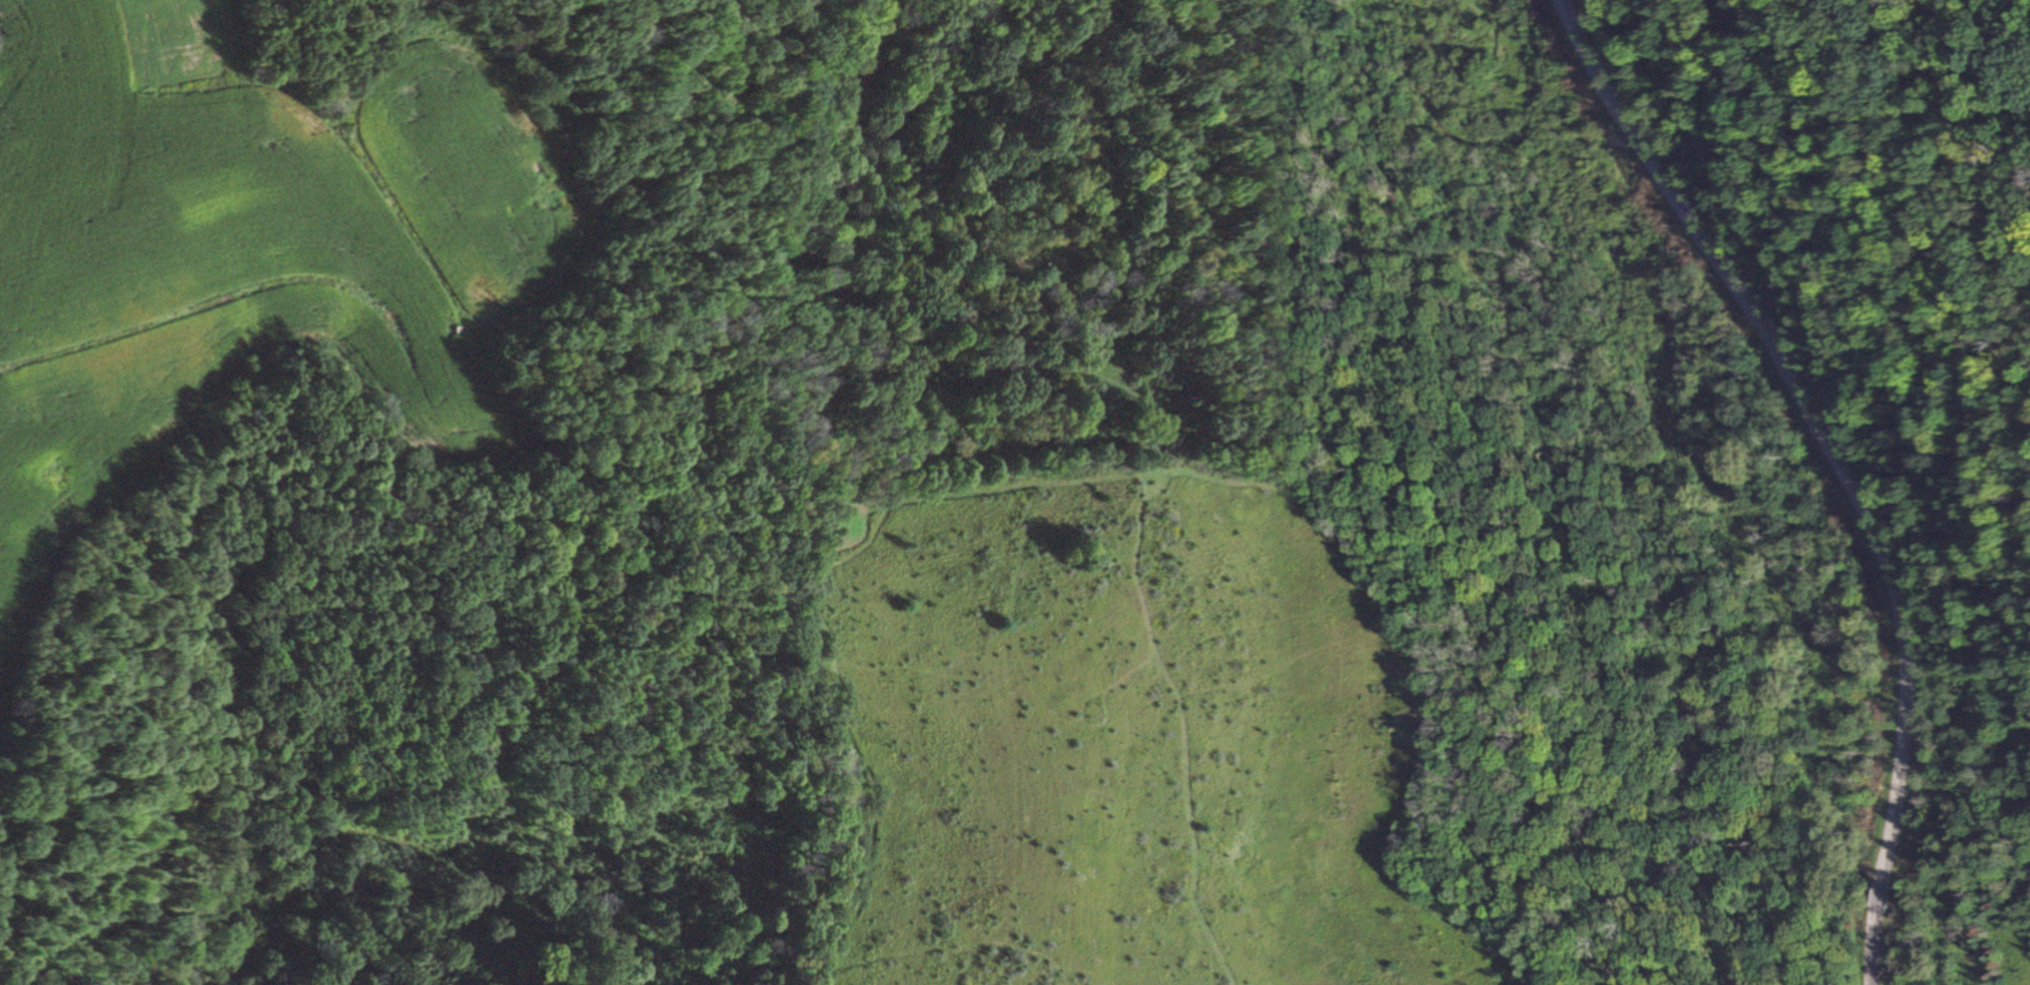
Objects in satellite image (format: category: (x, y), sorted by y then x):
road: (1840, 461)

